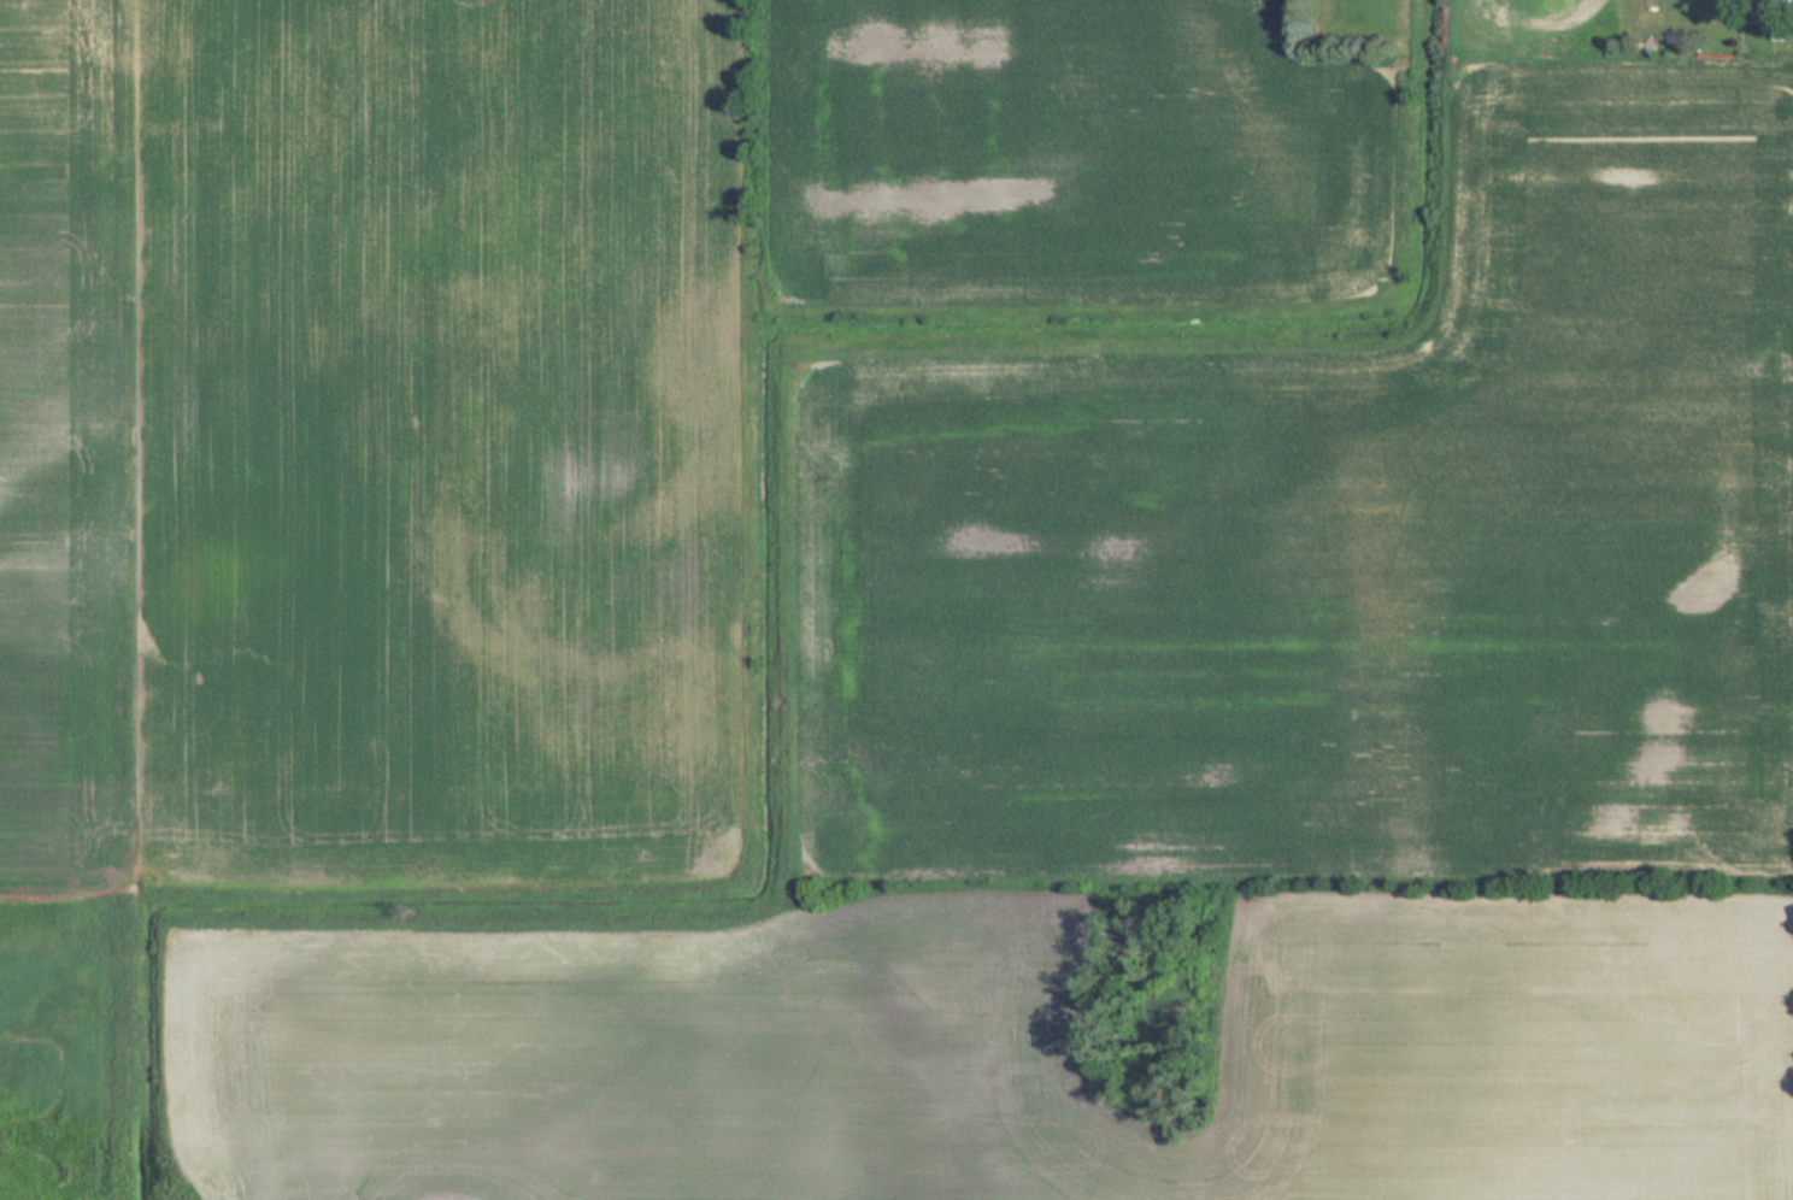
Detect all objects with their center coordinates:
building: (1781, 20)

